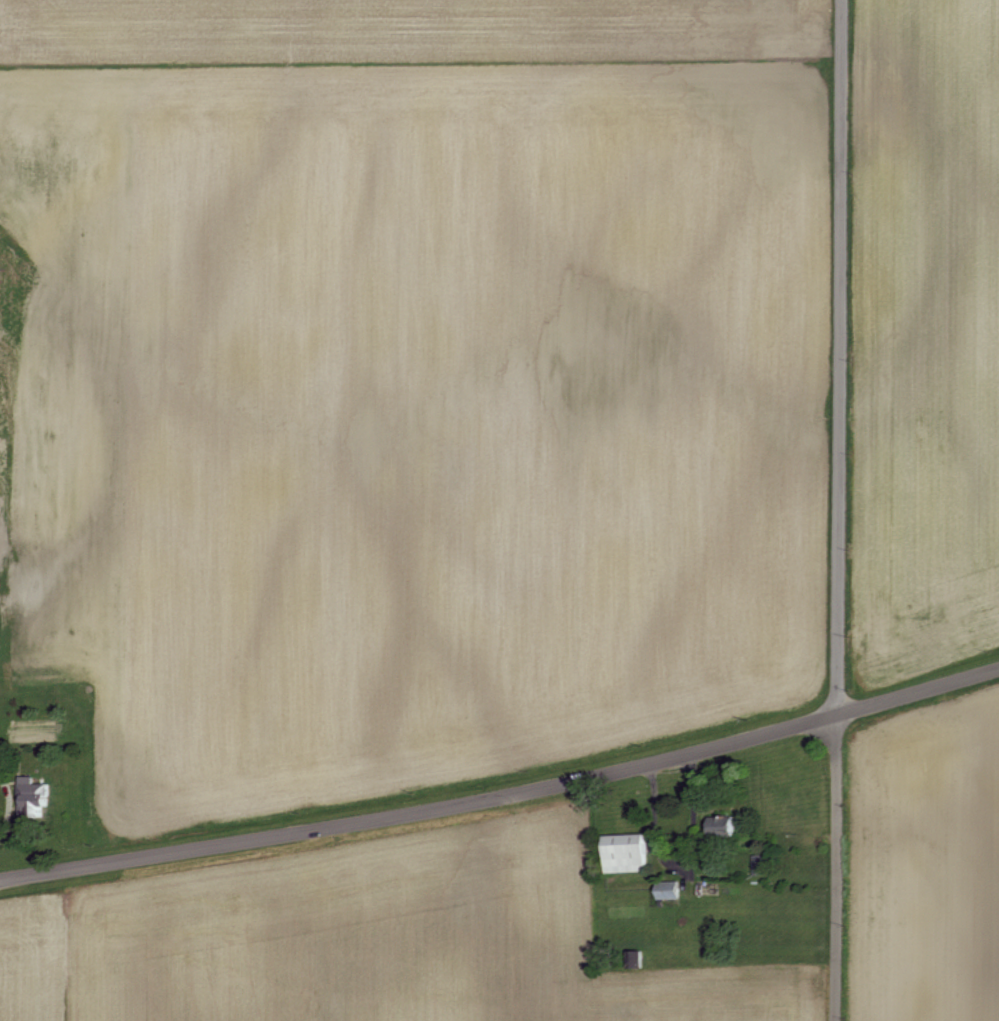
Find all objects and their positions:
road: (838, 510)
road: (504, 794)
building: (37, 797)
building: (629, 853)

